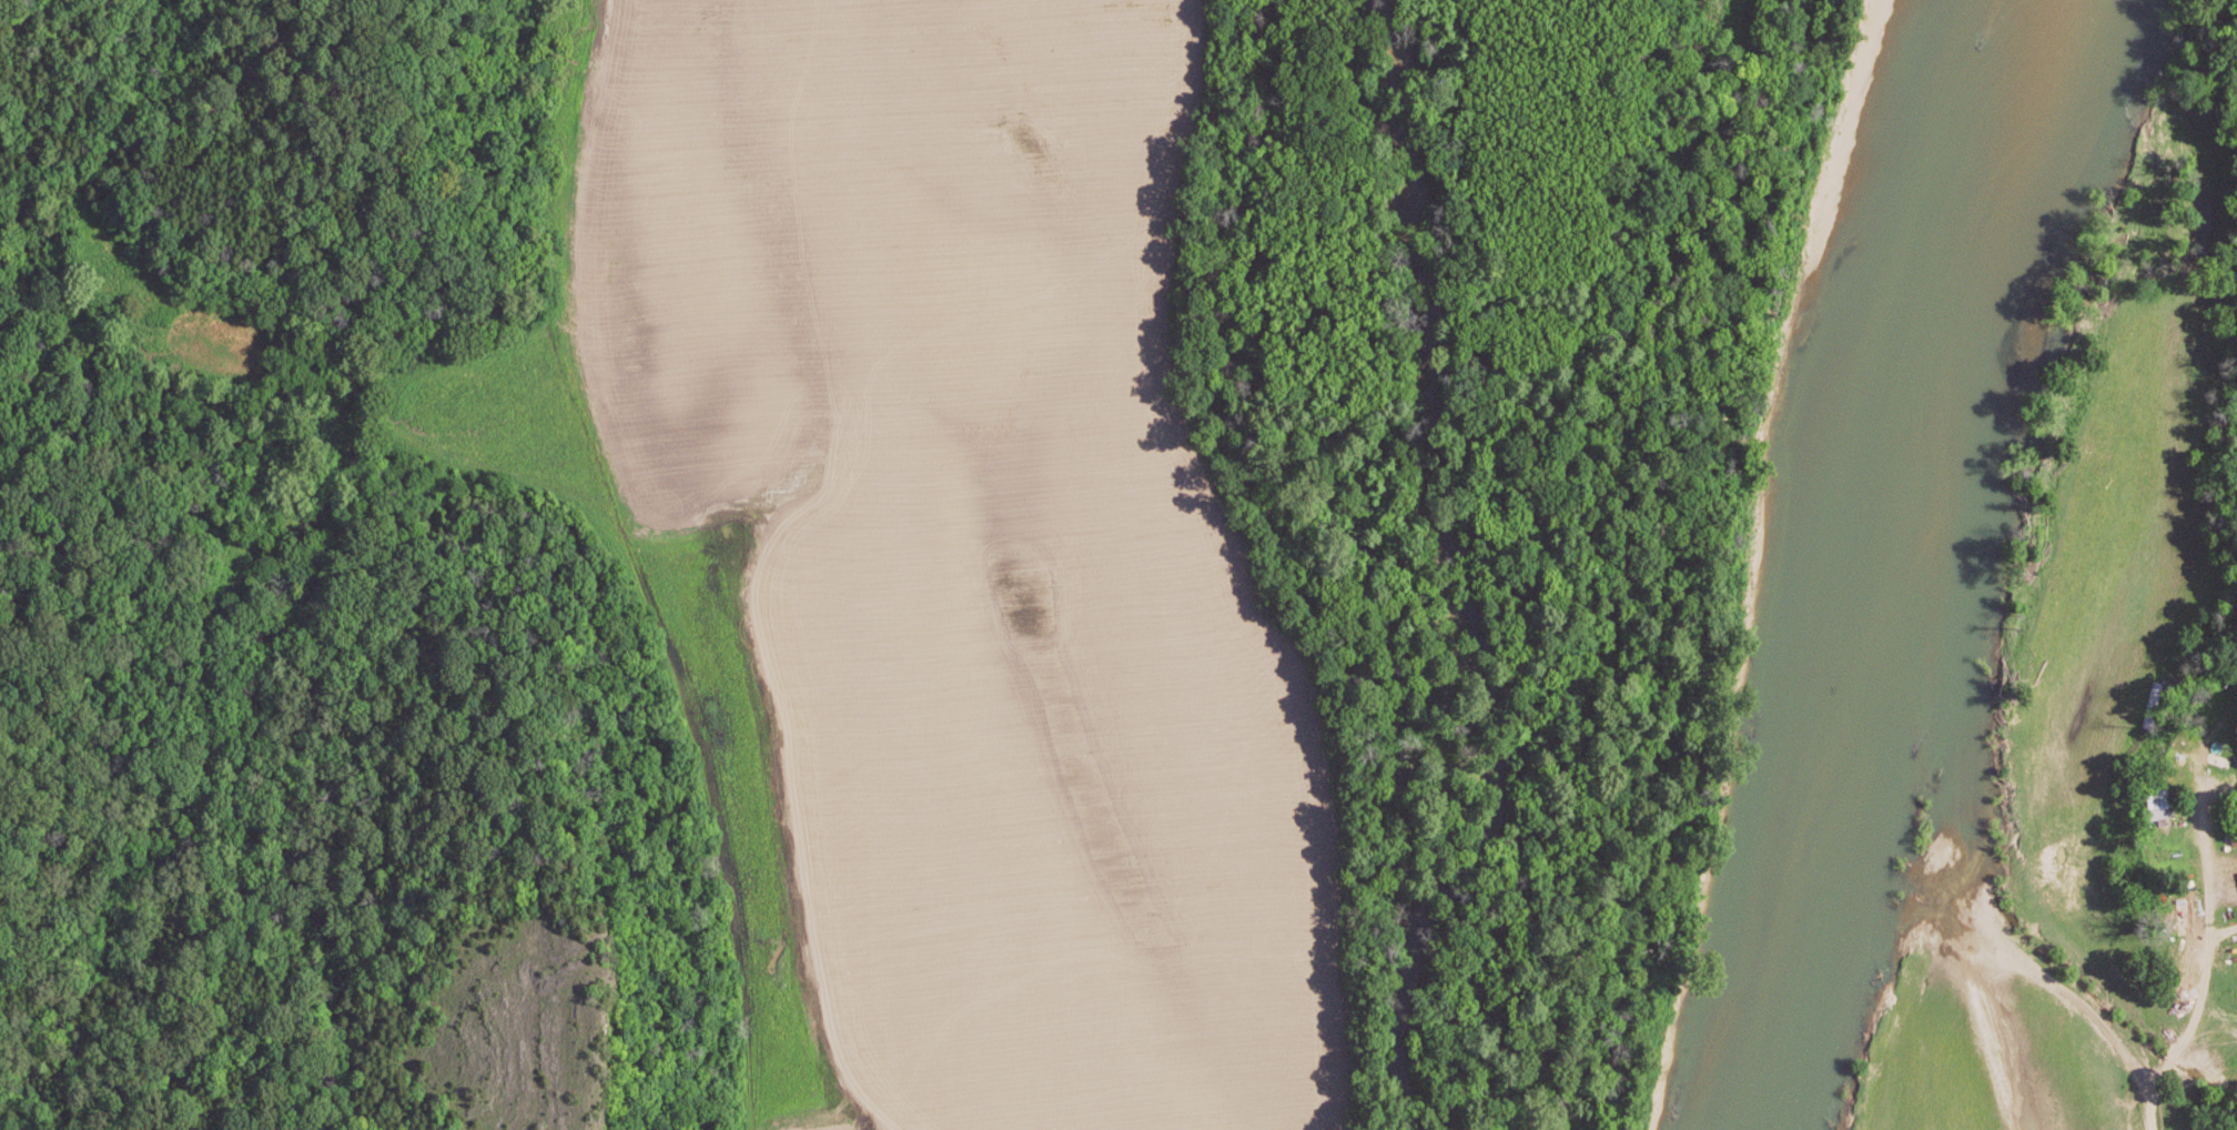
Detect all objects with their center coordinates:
river: (1876, 553)
road: (2211, 922)
road: (2224, 931)

